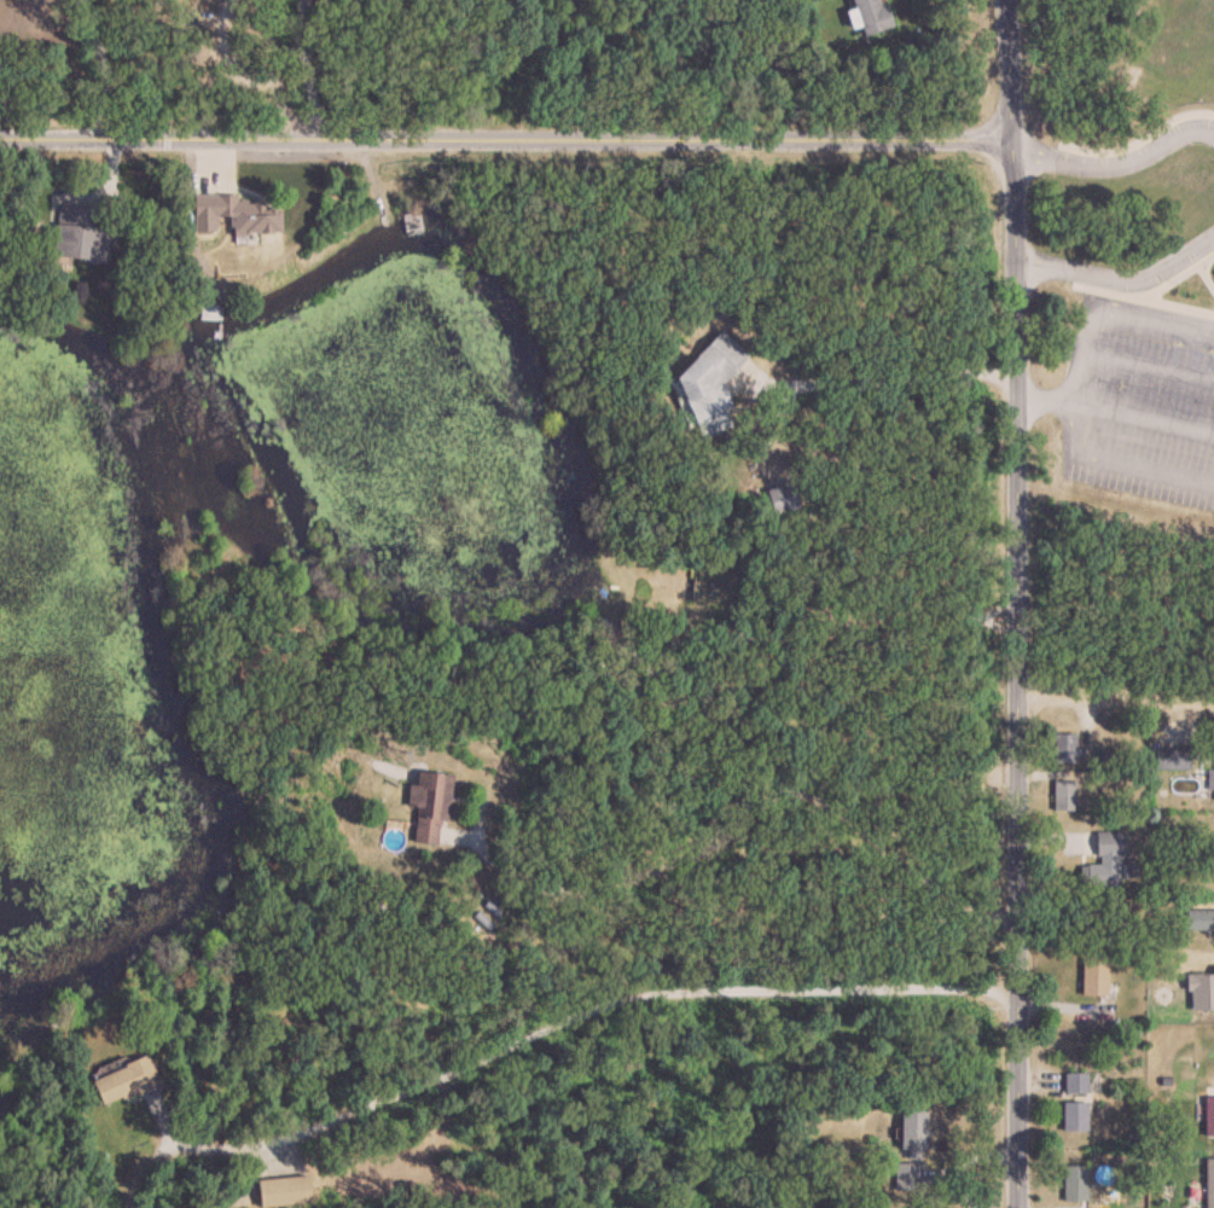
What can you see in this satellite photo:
building: (867, 16)
road: (98, 64)
road: (274, 66)
road: (302, 66)
road: (237, 76)
road: (505, 135)
road: (1116, 168)
building: (233, 215)
building: (411, 223)
building: (75, 234)
road: (1117, 279)
road: (1109, 307)
building: (207, 312)
road: (1012, 345)
road: (1148, 368)
parking lot: (1143, 370)
road: (878, 372)
building: (707, 385)
road: (1042, 399)
road: (1144, 411)
road: (1111, 464)
building: (779, 499)
building: (593, 626)
road: (1114, 695)
building: (1064, 749)
building: (1172, 757)
building: (1209, 784)
building: (1063, 796)
building: (426, 805)
road: (817, 809)
building: (1103, 863)
road: (635, 875)
building: (1197, 919)
road: (1018, 949)
building: (1092, 975)
road: (570, 1011)
building: (121, 1080)
building: (1074, 1085)
building: (1208, 1116)
building: (1071, 1117)
building: (911, 1133)
building: (905, 1175)
building: (1208, 1183)
building: (1074, 1184)
building: (280, 1190)

